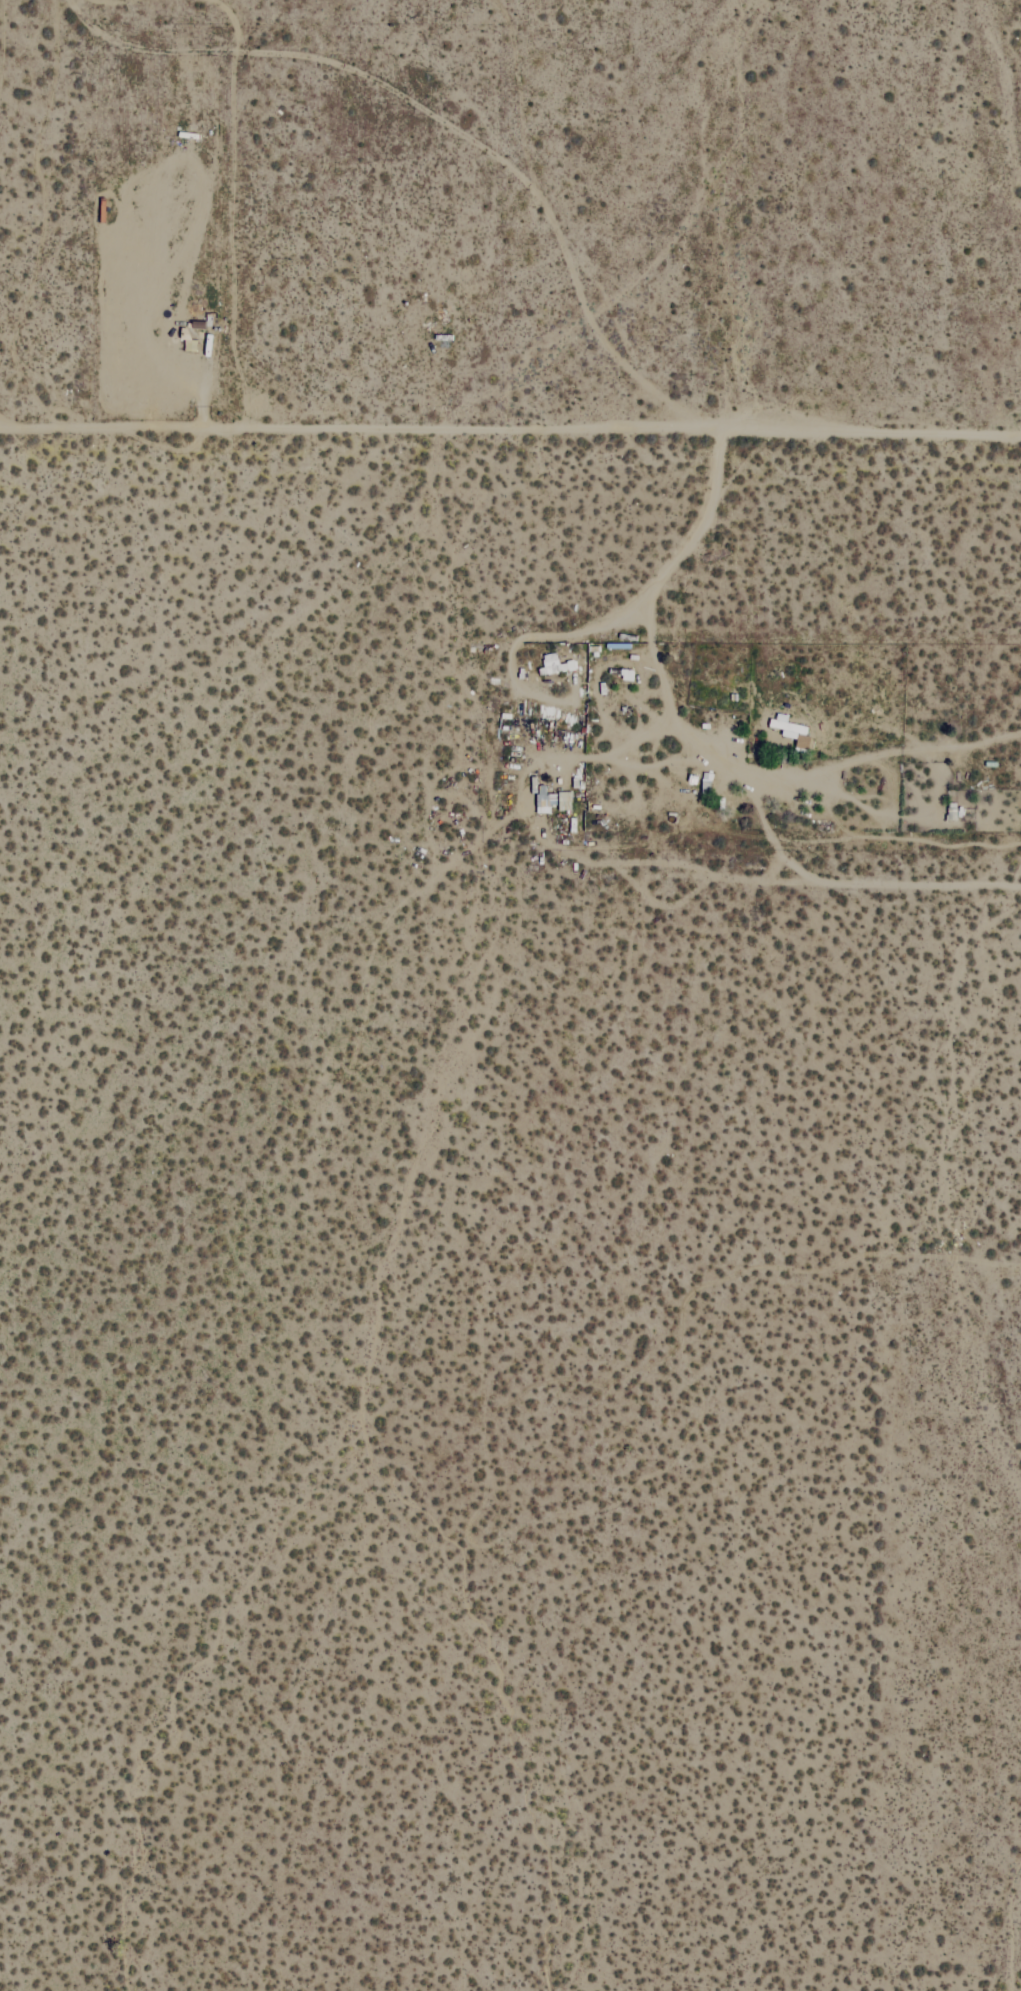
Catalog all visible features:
road: (105, 0)
road: (499, 158)
road: (510, 432)
road: (696, 528)
building: (554, 664)
building: (791, 730)
road: (705, 751)
road: (882, 751)
building: (544, 799)
road: (529, 813)
road: (910, 882)

